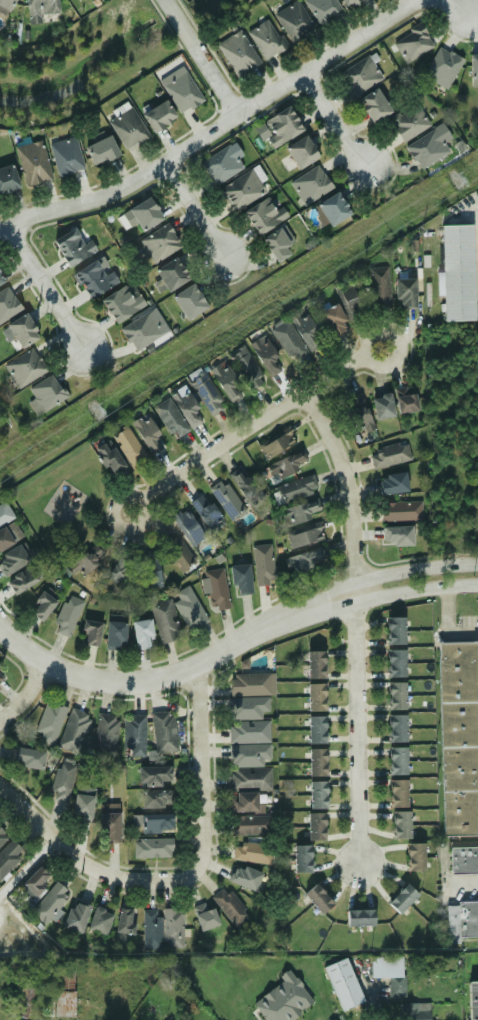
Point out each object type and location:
building: (350, 2)
building: (5, 6)
road: (460, 6)
building: (39, 9)
building: (322, 9)
road: (182, 19)
building: (294, 21)
building: (266, 39)
building: (412, 43)
building: (237, 54)
building: (473, 66)
building: (441, 68)
road: (218, 75)
building: (360, 75)
building: (182, 92)
building: (374, 105)
building: (158, 116)
road: (337, 117)
building: (408, 122)
road: (221, 126)
building: (282, 127)
building: (127, 128)
building: (261, 131)
building: (428, 146)
building: (101, 150)
building: (301, 152)
building: (66, 156)
building: (32, 163)
building: (220, 165)
building: (7, 178)
power tower: (454, 178)
building: (310, 184)
building: (241, 190)
building: (332, 208)
road: (194, 211)
building: (143, 214)
building: (263, 215)
building: (159, 243)
building: (277, 244)
building: (73, 247)
building: (457, 272)
building: (171, 274)
building: (1, 279)
building: (94, 279)
road: (47, 284)
building: (379, 287)
building: (405, 293)
building: (189, 301)
building: (349, 301)
building: (122, 302)
building: (7, 304)
building: (333, 320)
building: (22, 330)
building: (306, 330)
building: (141, 331)
building: (288, 341)
building: (266, 356)
building: (246, 367)
building: (24, 368)
building: (225, 382)
building: (46, 393)
building: (207, 393)
building: (406, 403)
building: (382, 406)
building: (187, 408)
power tower: (92, 409)
building: (359, 413)
building: (170, 418)
road: (253, 424)
building: (147, 433)
building: (276, 442)
building: (128, 447)
building: (389, 455)
building: (109, 458)
building: (289, 462)
building: (392, 483)
building: (245, 486)
road: (349, 486)
building: (294, 489)
building: (225, 498)
park: (66, 502)
building: (301, 511)
building: (400, 511)
building: (4, 513)
building: (206, 513)
building: (188, 528)
building: (305, 535)
building: (396, 535)
building: (9, 536)
building: (178, 553)
building: (12, 560)
building: (304, 561)
building: (83, 564)
building: (262, 565)
road: (414, 570)
building: (118, 574)
building: (150, 578)
building: (241, 579)
building: (22, 580)
building: (216, 589)
road: (416, 590)
building: (42, 606)
building: (188, 608)
building: (67, 616)
road: (453, 617)
building: (164, 621)
building: (395, 630)
building: (91, 631)
building: (142, 633)
building: (115, 635)
building: (396, 663)
building: (315, 664)
road: (177, 671)
building: (1, 674)
building: (0, 678)
building: (249, 684)
road: (28, 694)
building: (397, 696)
building: (316, 697)
building: (247, 708)
building: (49, 722)
road: (357, 727)
building: (397, 728)
building: (316, 729)
building: (73, 731)
building: (163, 732)
building: (248, 732)
building: (133, 734)
building: (105, 735)
building: (458, 736)
building: (248, 754)
building: (29, 758)
building: (397, 760)
building: (317, 762)
road: (202, 772)
building: (153, 776)
building: (250, 779)
building: (62, 781)
building: (398, 793)
building: (317, 795)
building: (155, 799)
building: (245, 801)
building: (83, 804)
building: (157, 823)
building: (251, 824)
building: (401, 825)
building: (315, 826)
building: (110, 827)
building: (2, 836)
building: (152, 847)
building: (251, 852)
building: (9, 856)
building: (416, 856)
building: (301, 858)
building: (464, 859)
road: (81, 862)
building: (245, 877)
building: (35, 881)
building: (318, 898)
building: (402, 898)
building: (49, 902)
building: (229, 906)
building: (204, 916)
building: (75, 917)
building: (360, 917)
building: (467, 918)
building: (100, 920)
building: (124, 921)
building: (172, 928)
building: (150, 929)
building: (343, 983)
building: (396, 985)
building: (63, 992)
building: (27, 995)
building: (282, 1000)
building: (473, 1000)
building: (412, 1011)
building: (114, 1015)
building: (337, 1019)

